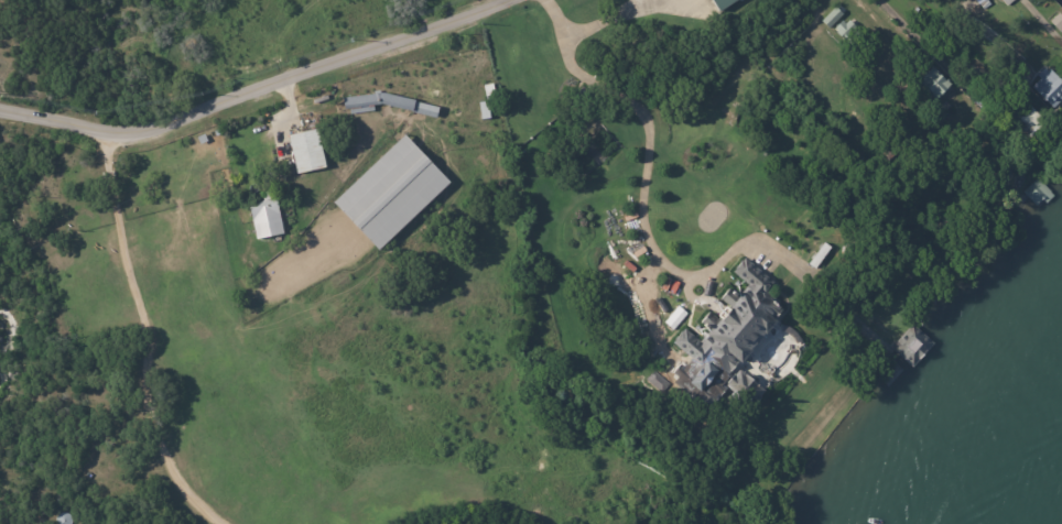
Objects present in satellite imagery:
building: (704, 0)
building: (1007, 2)
building: (982, 3)
building: (722, 4)
road: (557, 18)
road: (613, 19)
building: (831, 19)
building: (1059, 26)
road: (979, 28)
building: (847, 33)
road: (921, 44)
building: (934, 86)
road: (252, 89)
building: (1049, 89)
building: (977, 101)
building: (485, 102)
building: (386, 103)
road: (282, 111)
building: (1021, 119)
building: (891, 151)
building: (304, 153)
road: (646, 153)
building: (1037, 193)
building: (389, 195)
building: (264, 216)
building: (732, 323)
road: (147, 339)
building: (657, 382)
building: (743, 389)

